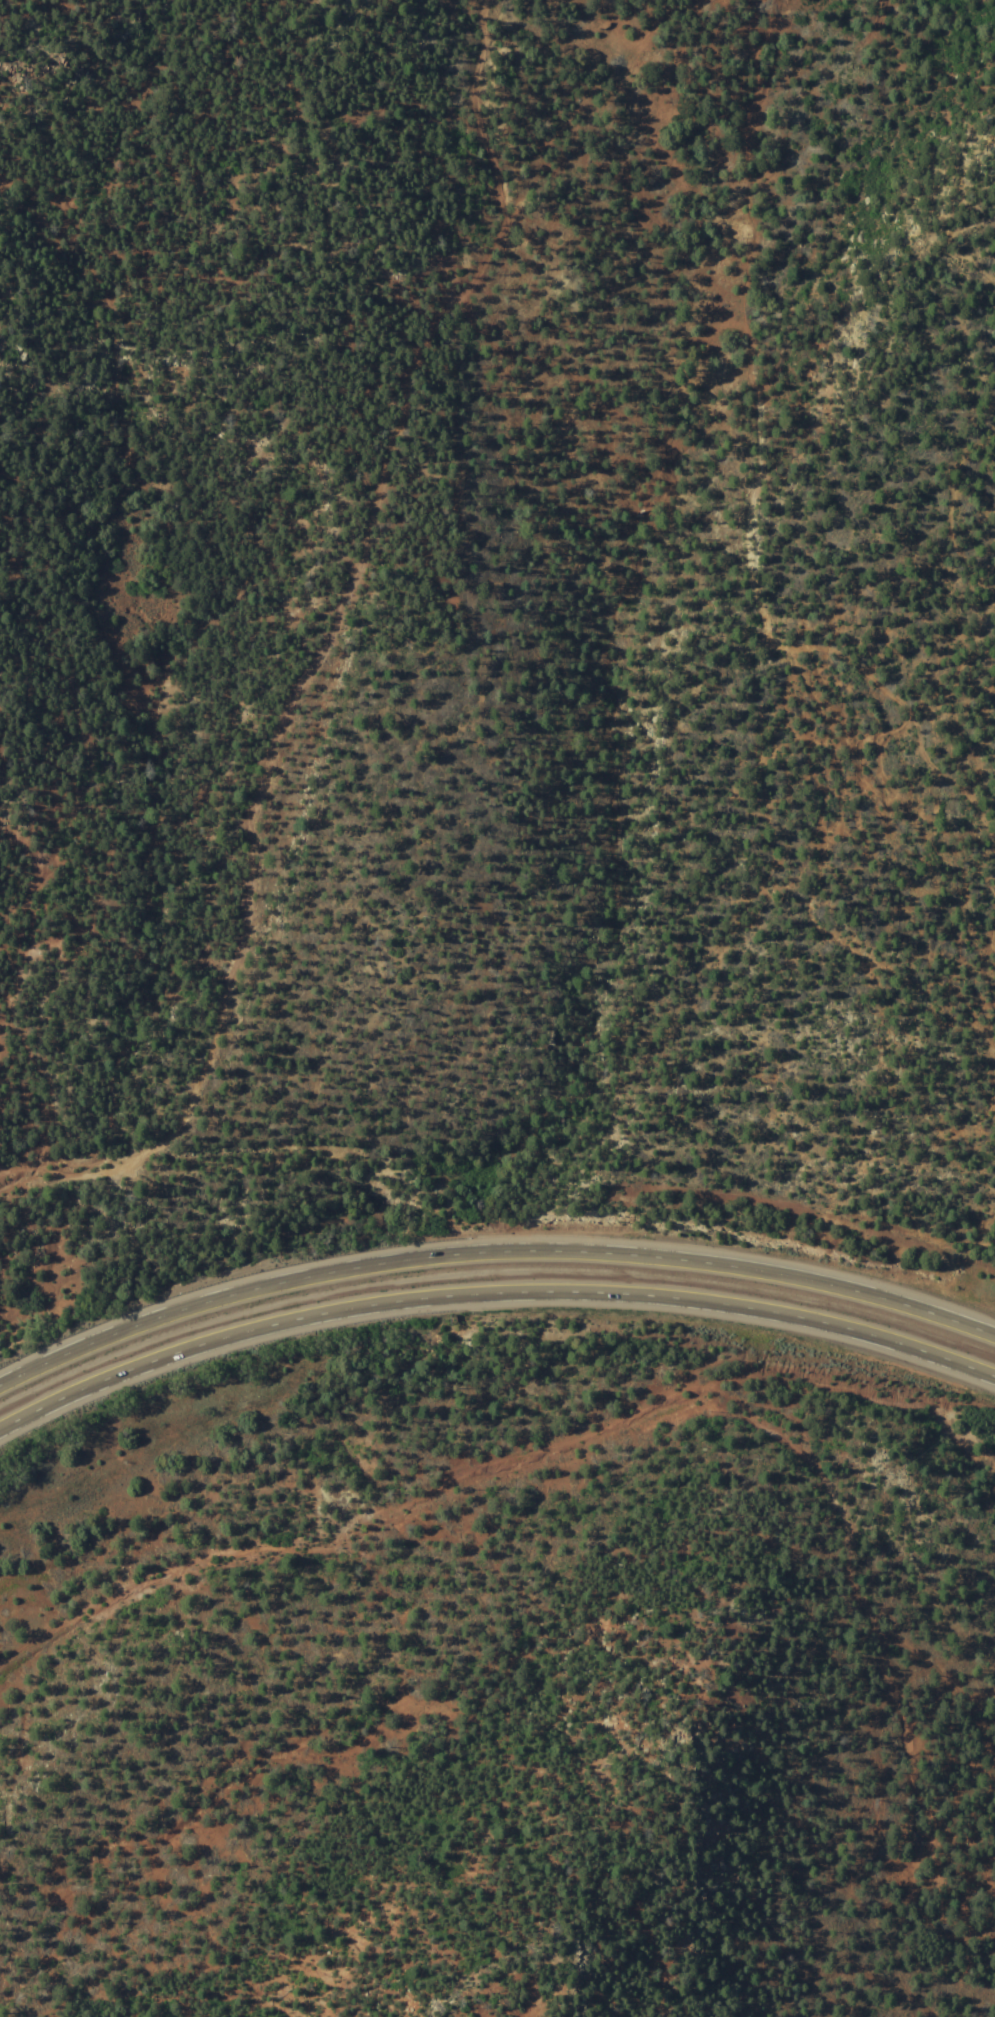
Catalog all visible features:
road: (587, 99)
road: (968, 216)
road: (748, 518)
road: (320, 646)
road: (919, 699)
road: (490, 1248)
road: (491, 1292)
road: (968, 1441)

